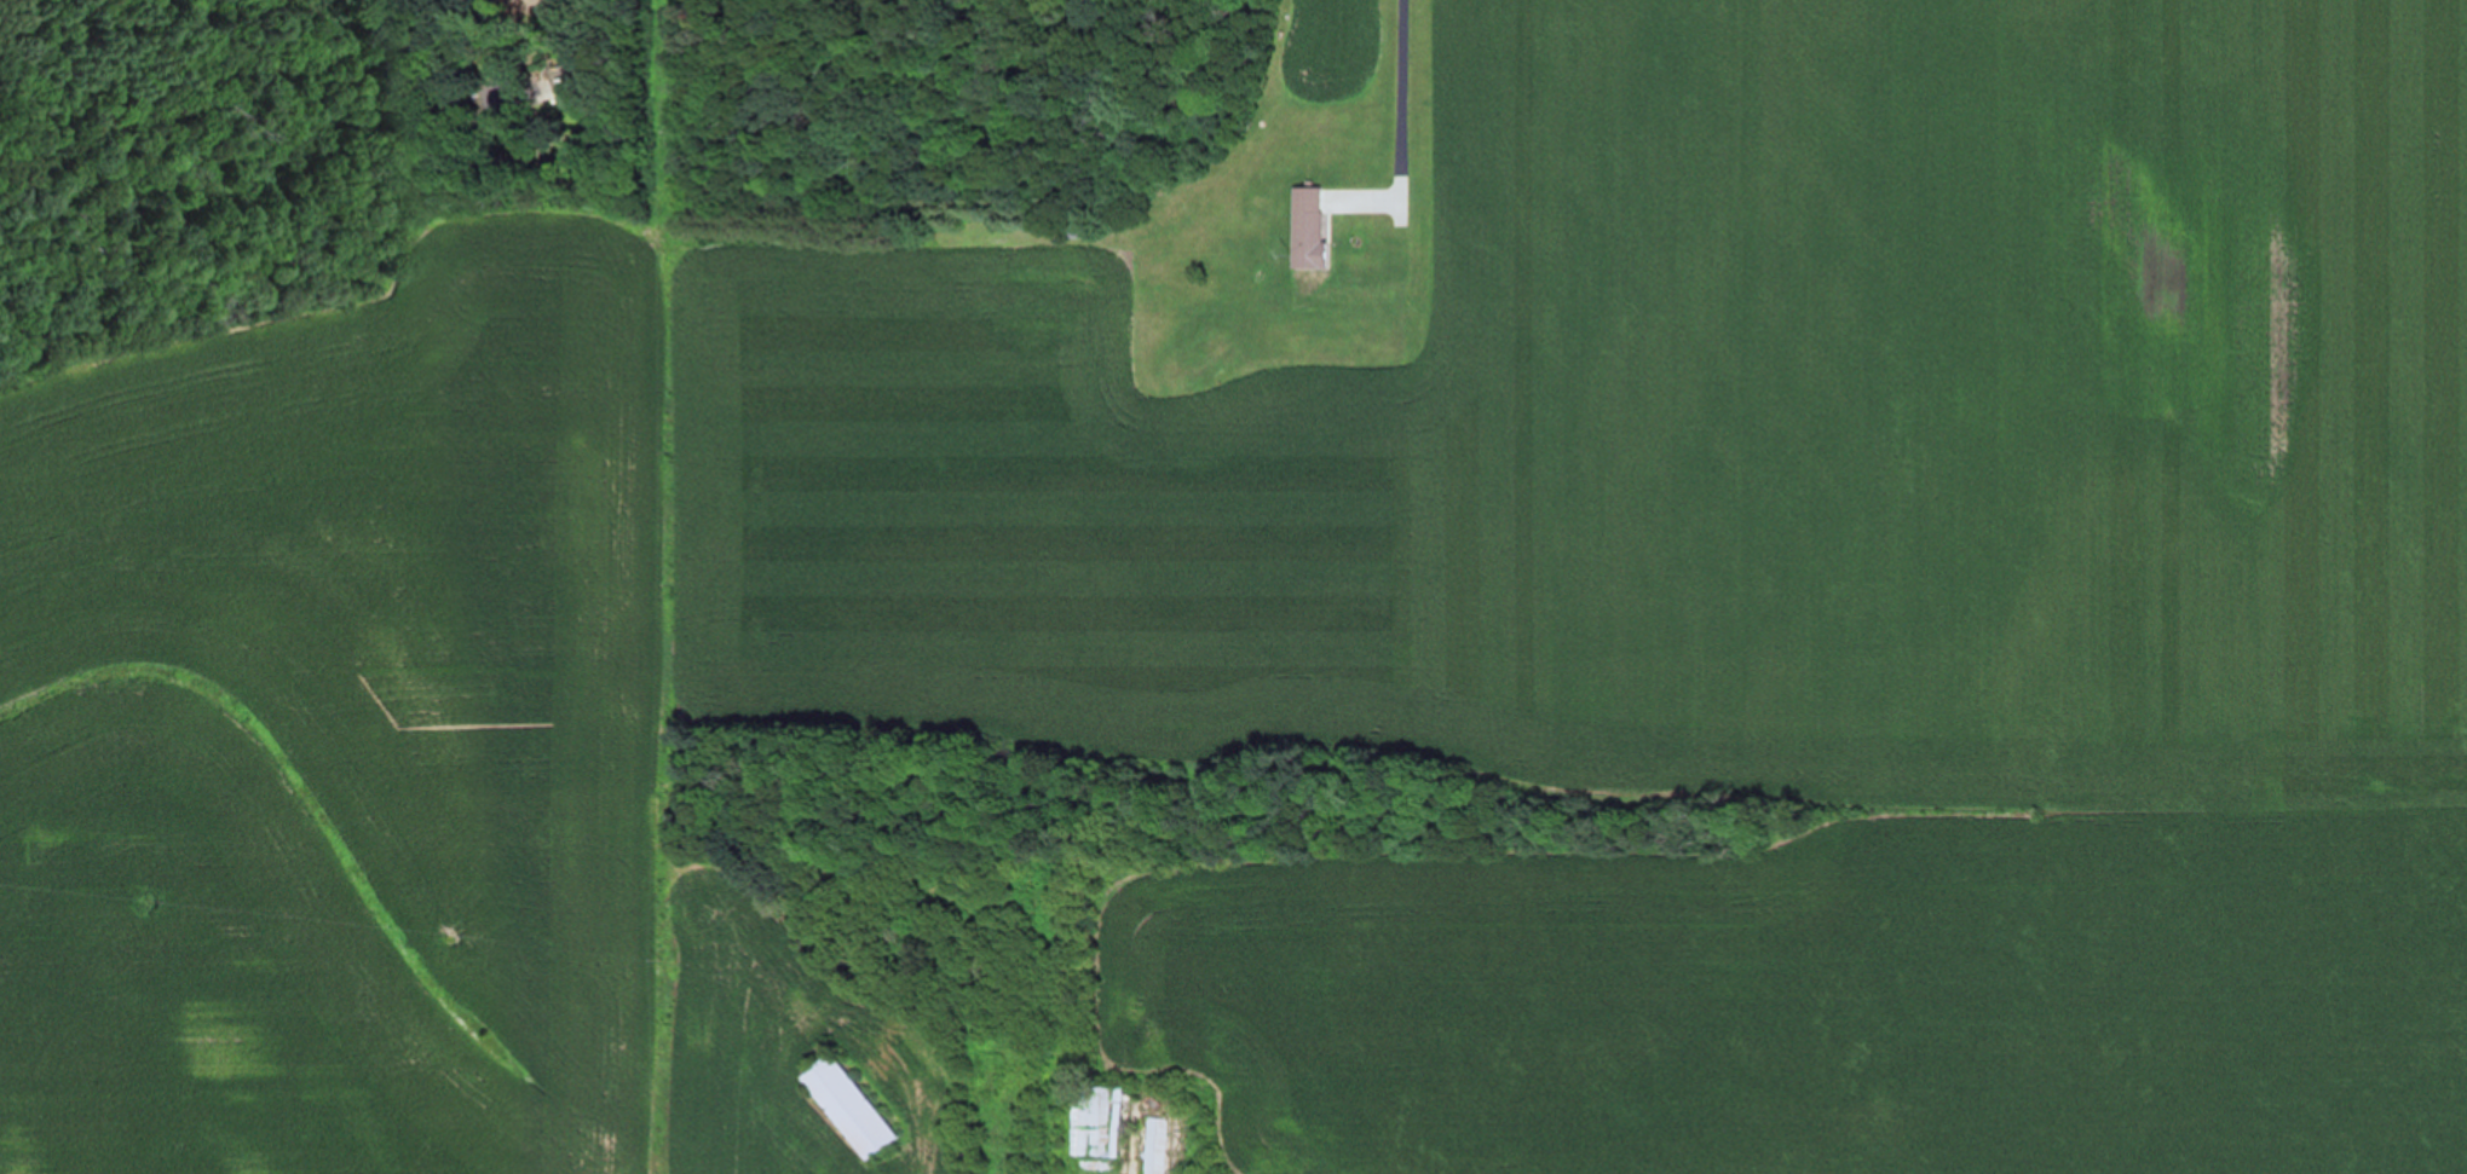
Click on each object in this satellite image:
road: (1400, 133)
building: (1305, 229)
building: (852, 1108)
building: (1099, 1122)
building: (1145, 1141)

